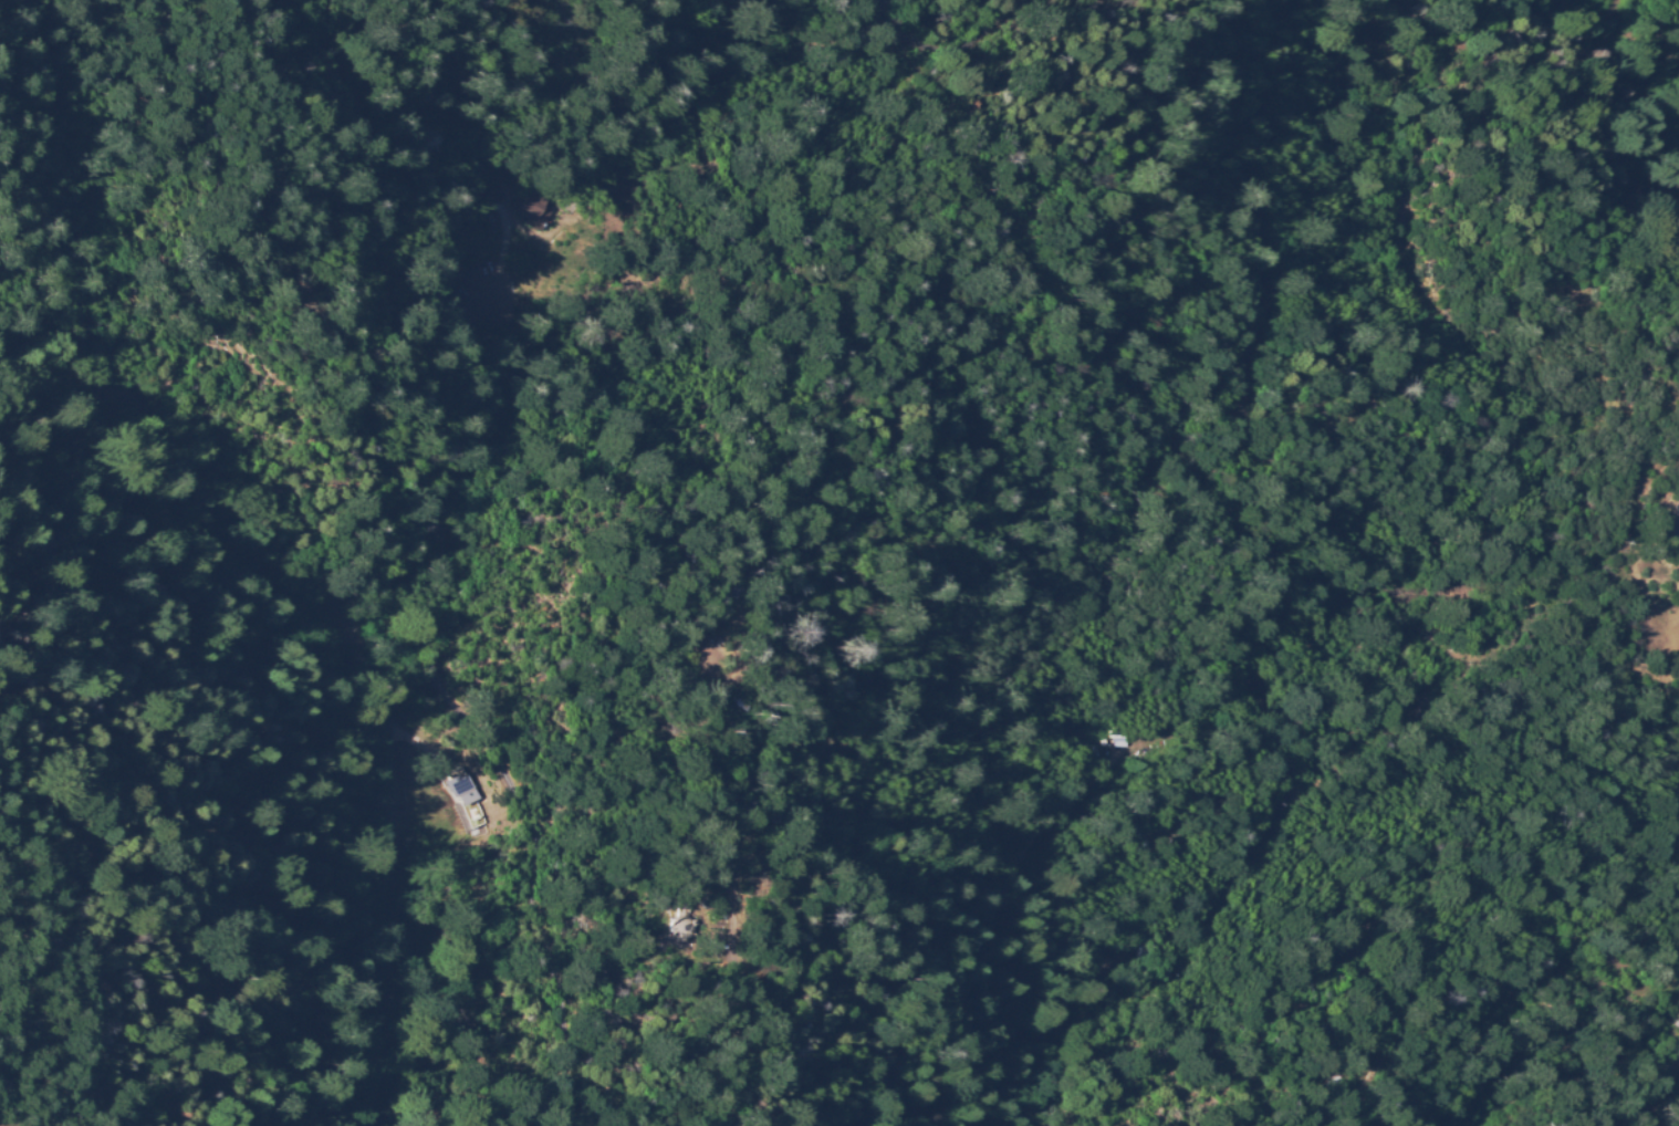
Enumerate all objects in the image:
building: (553, 204)
building: (731, 591)
road: (843, 595)
road: (493, 767)
road: (931, 908)
road: (1409, 932)
road: (738, 1023)

